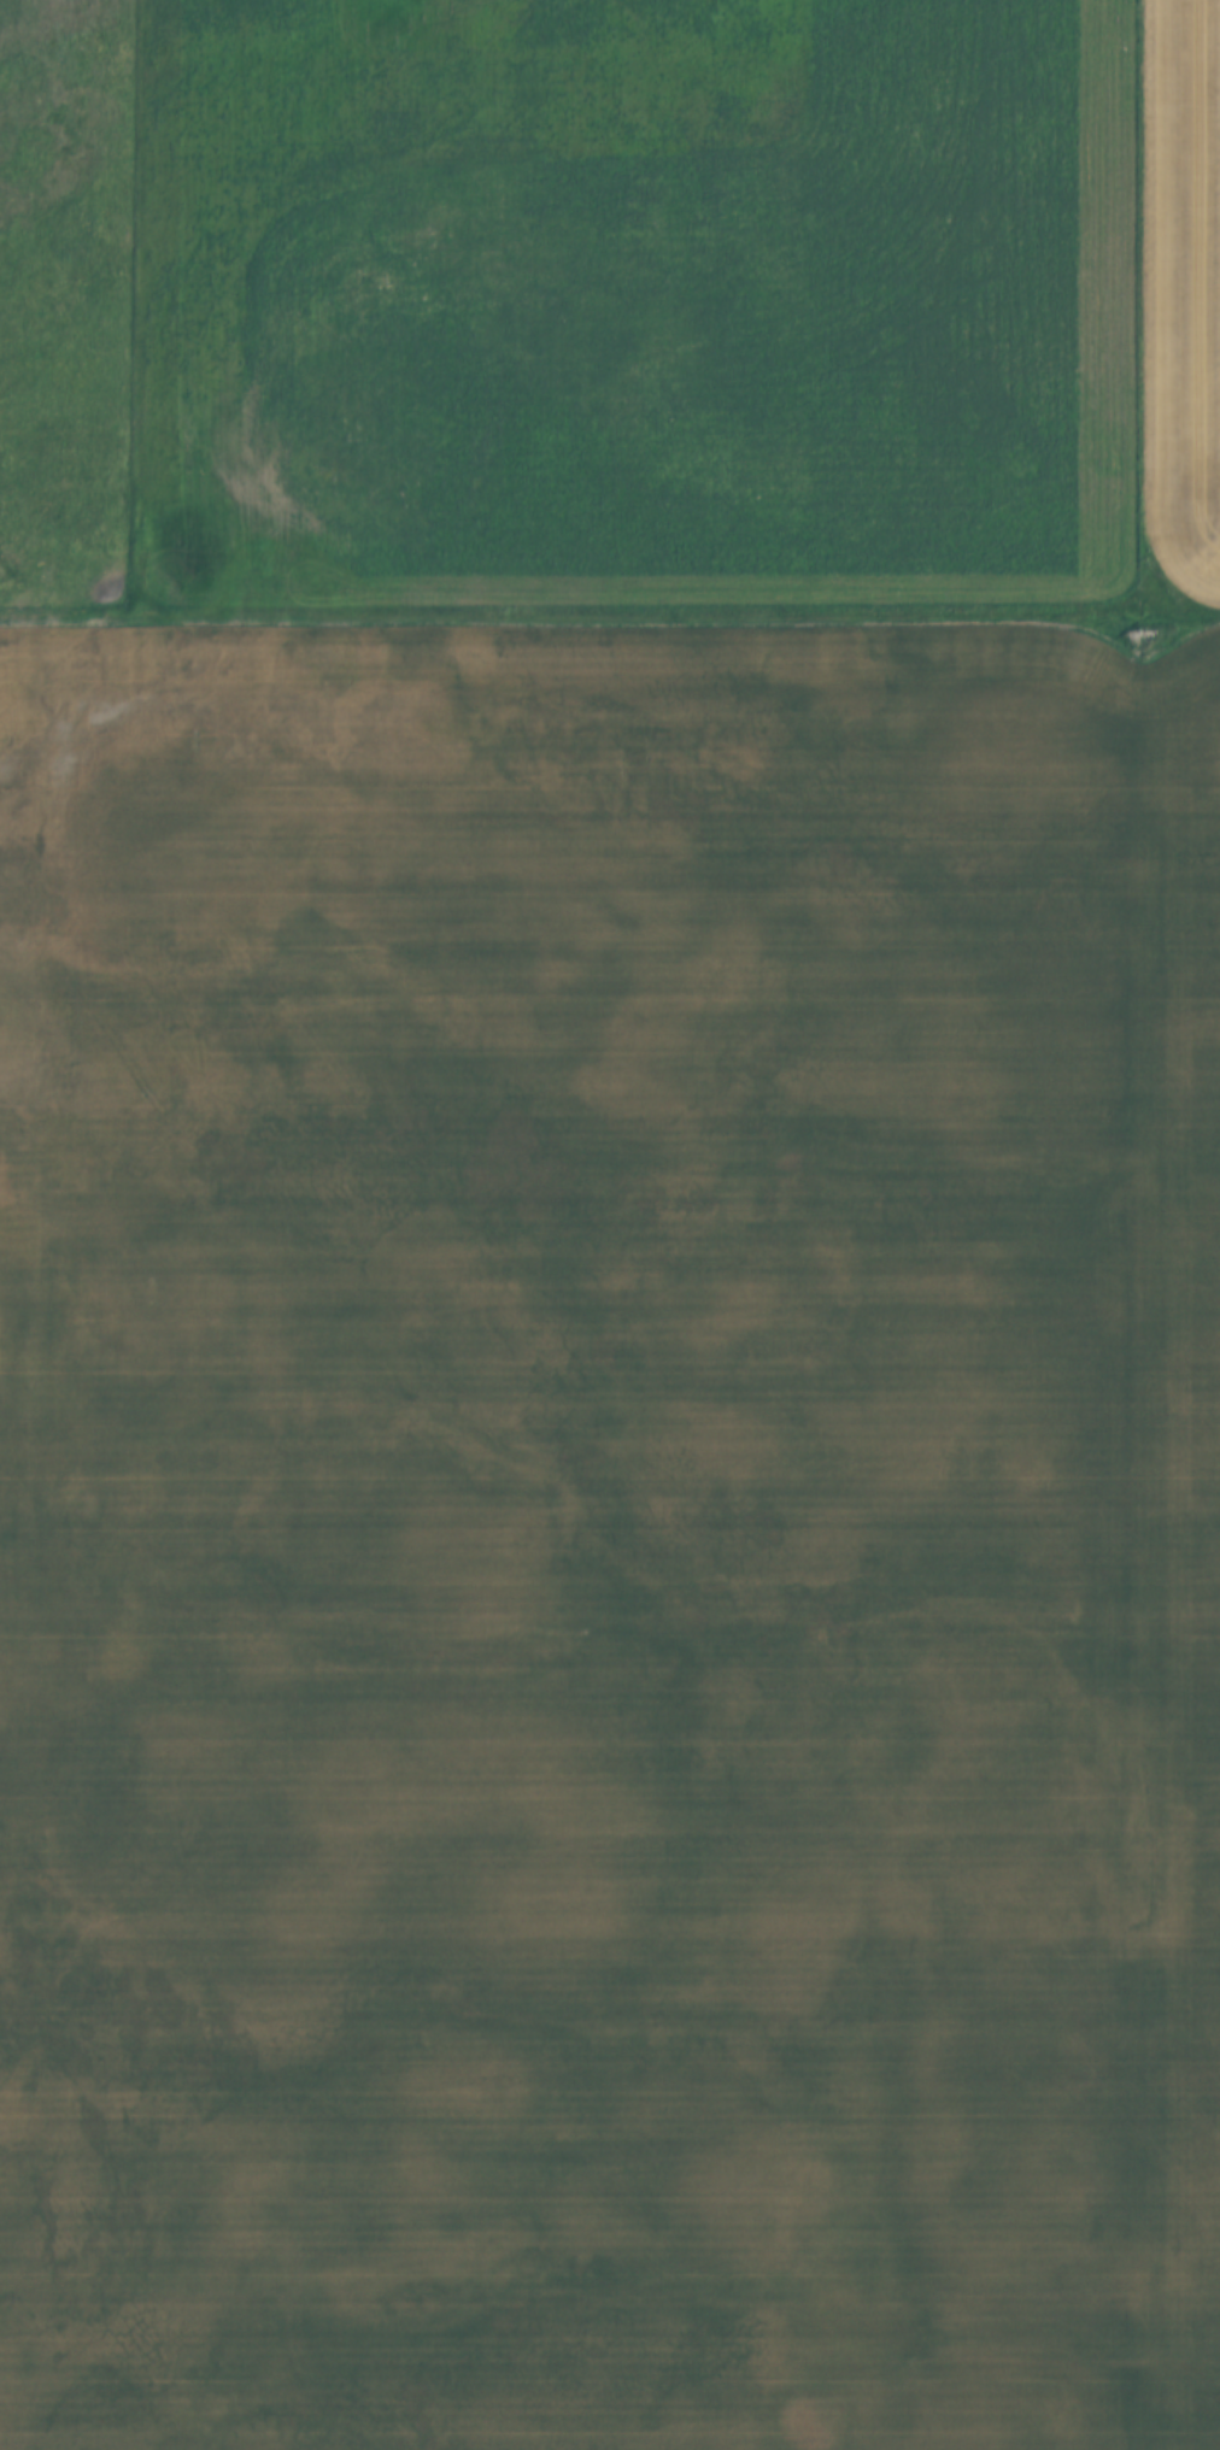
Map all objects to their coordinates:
road: (610, 618)

